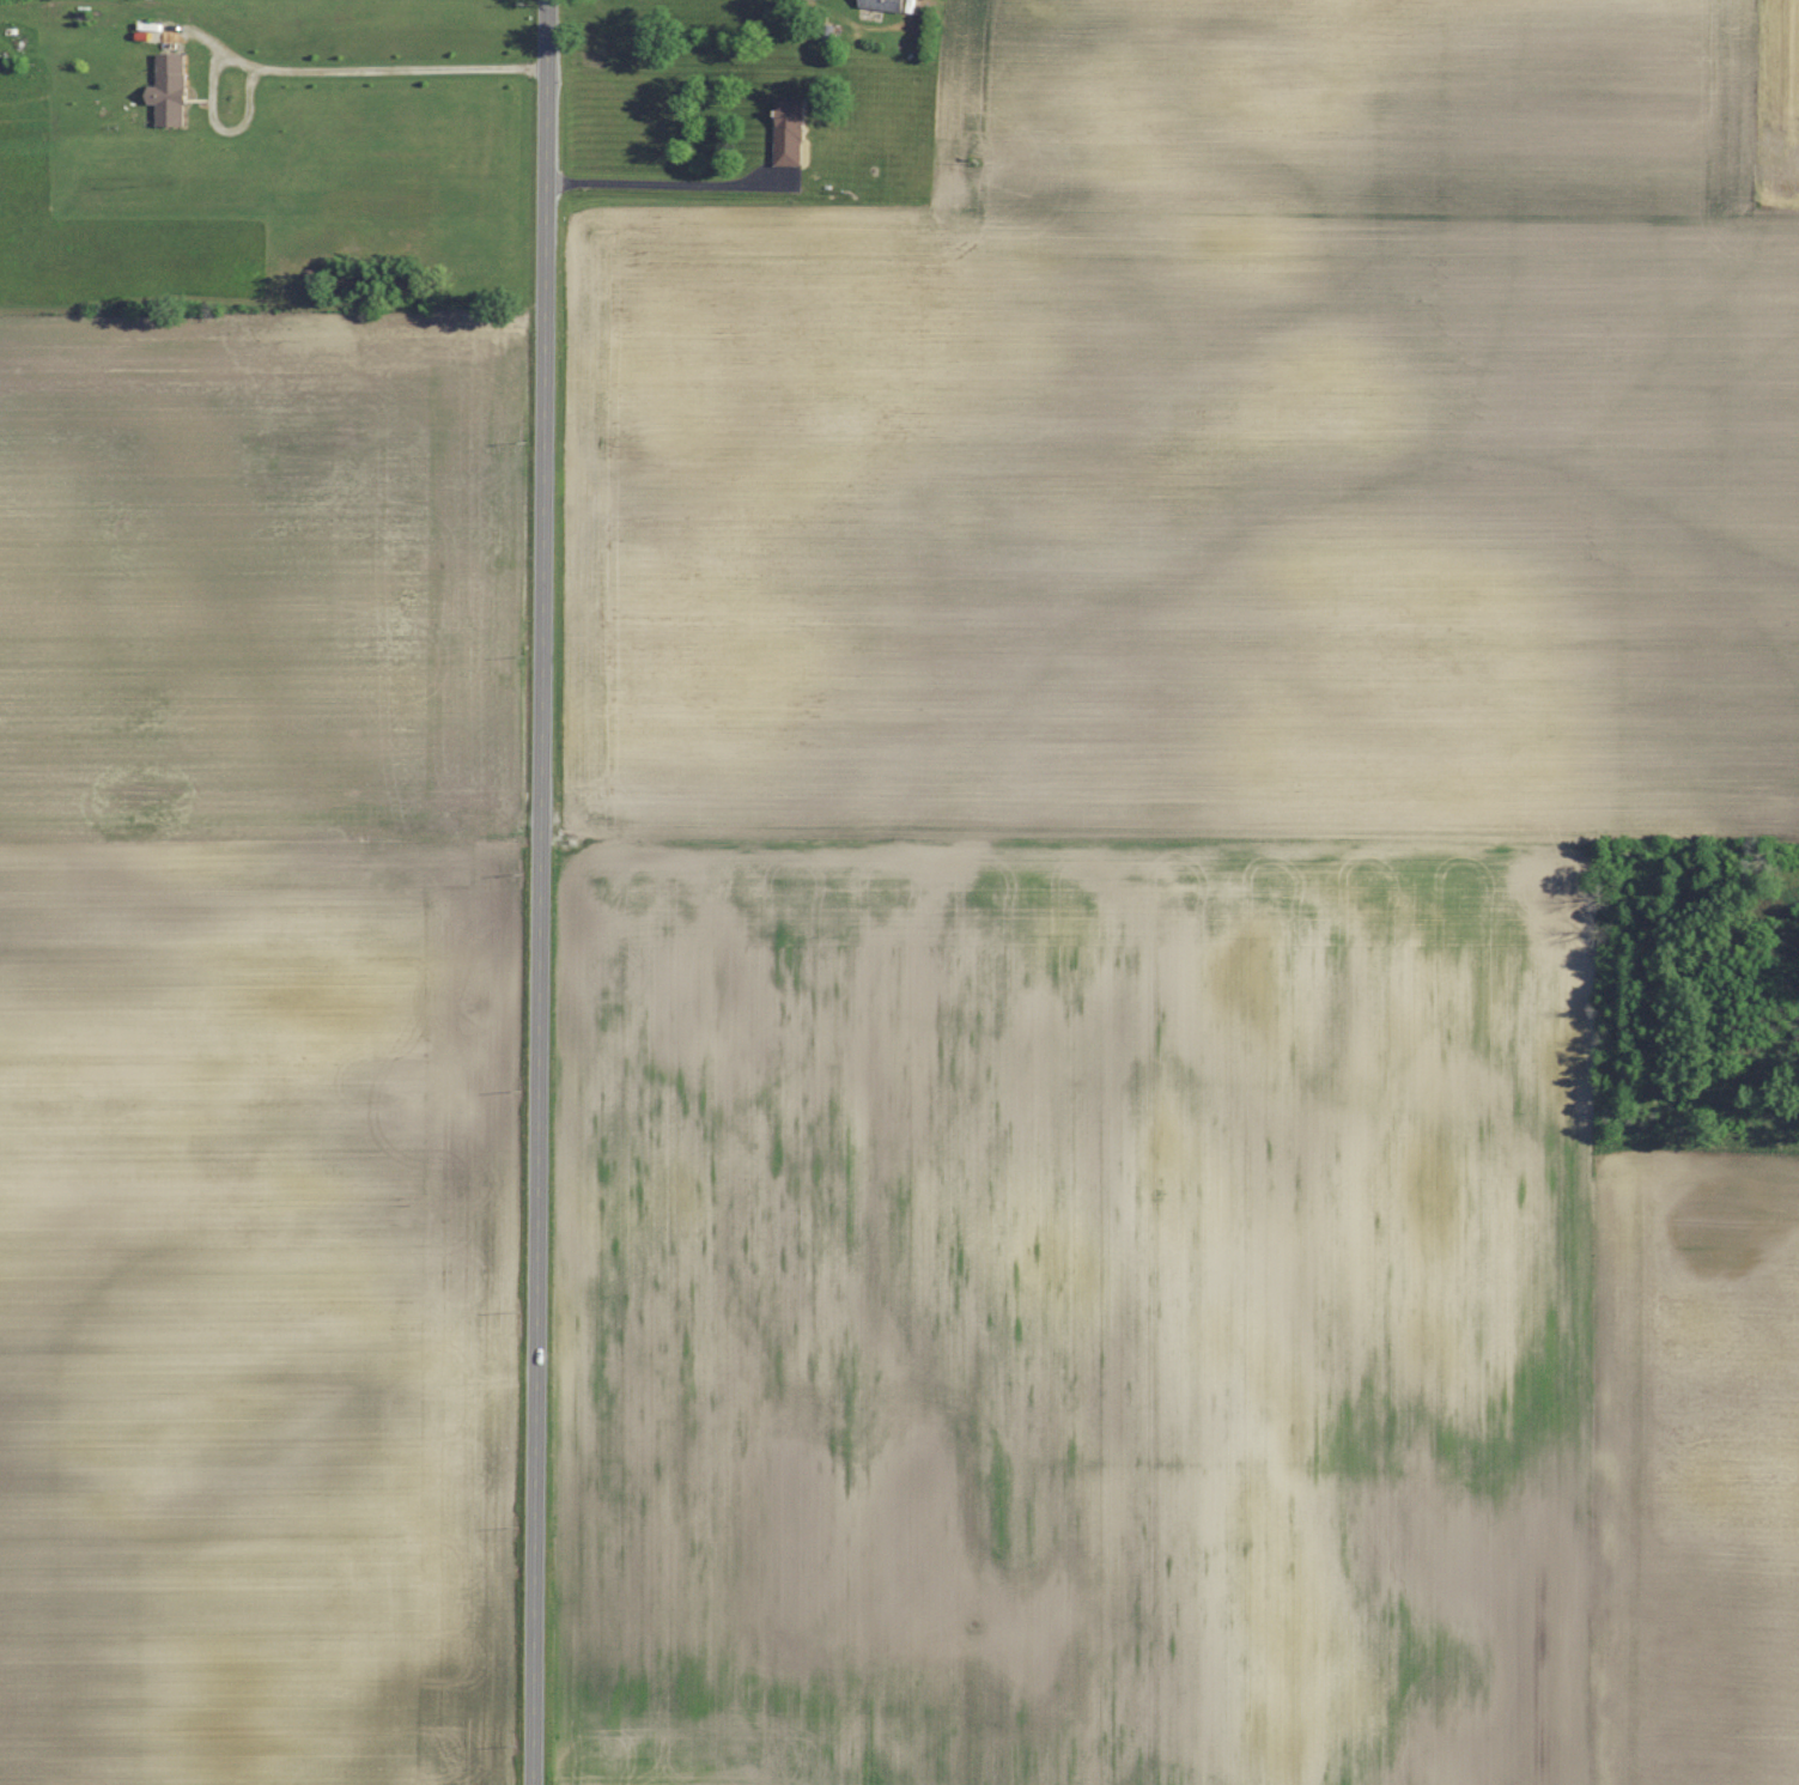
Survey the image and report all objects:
building: (887, 5)
road: (361, 72)
building: (172, 90)
building: (791, 133)
road: (665, 188)
road: (901, 455)
road: (540, 892)

